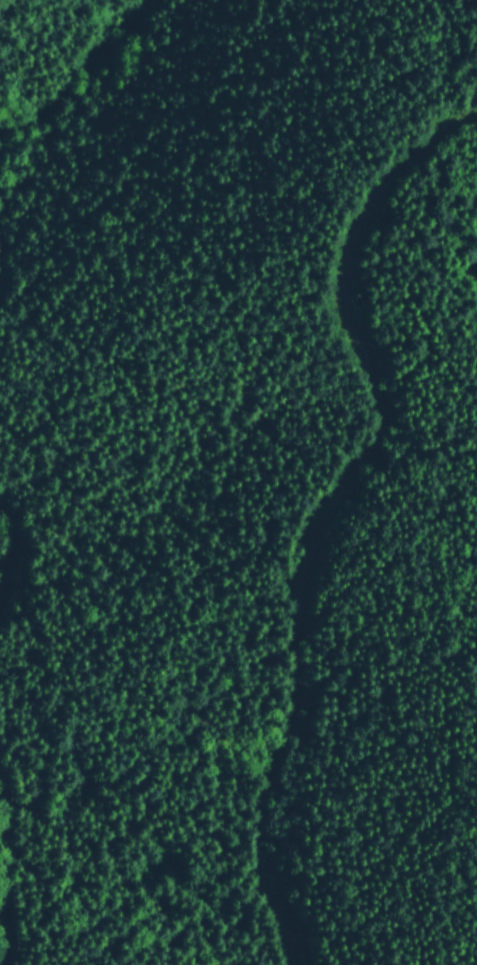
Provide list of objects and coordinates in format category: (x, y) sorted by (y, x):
road: (363, 533)
road: (4, 905)

